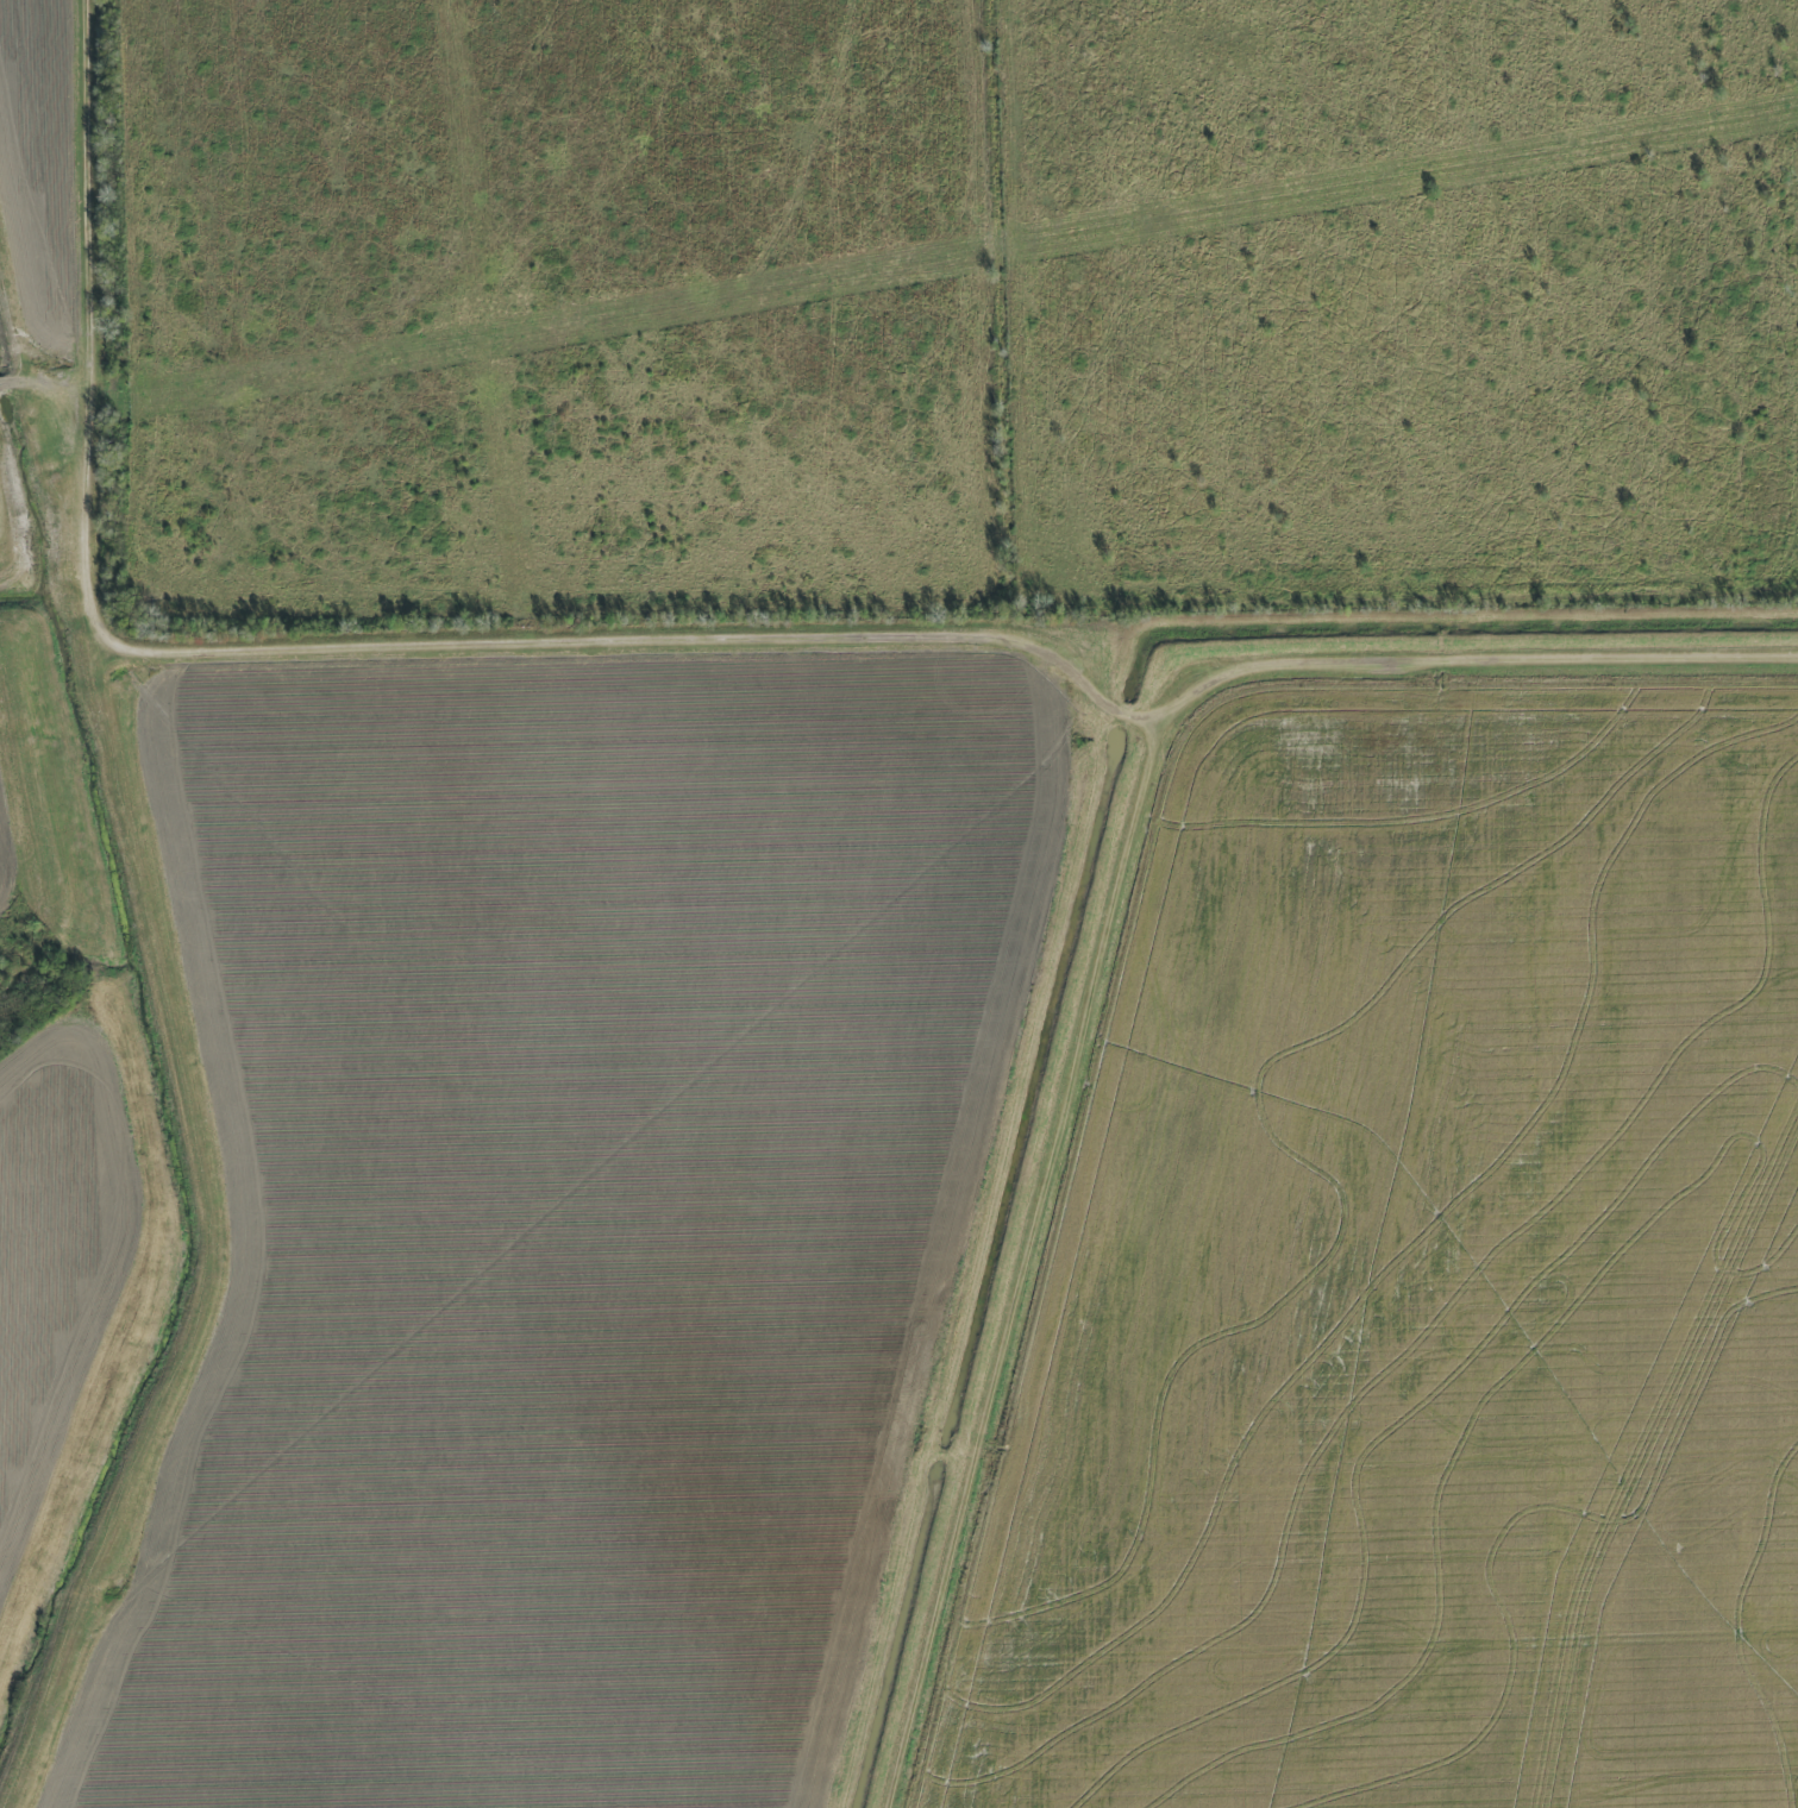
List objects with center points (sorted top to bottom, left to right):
road: (1100, 942)
river: (176, 1167)

